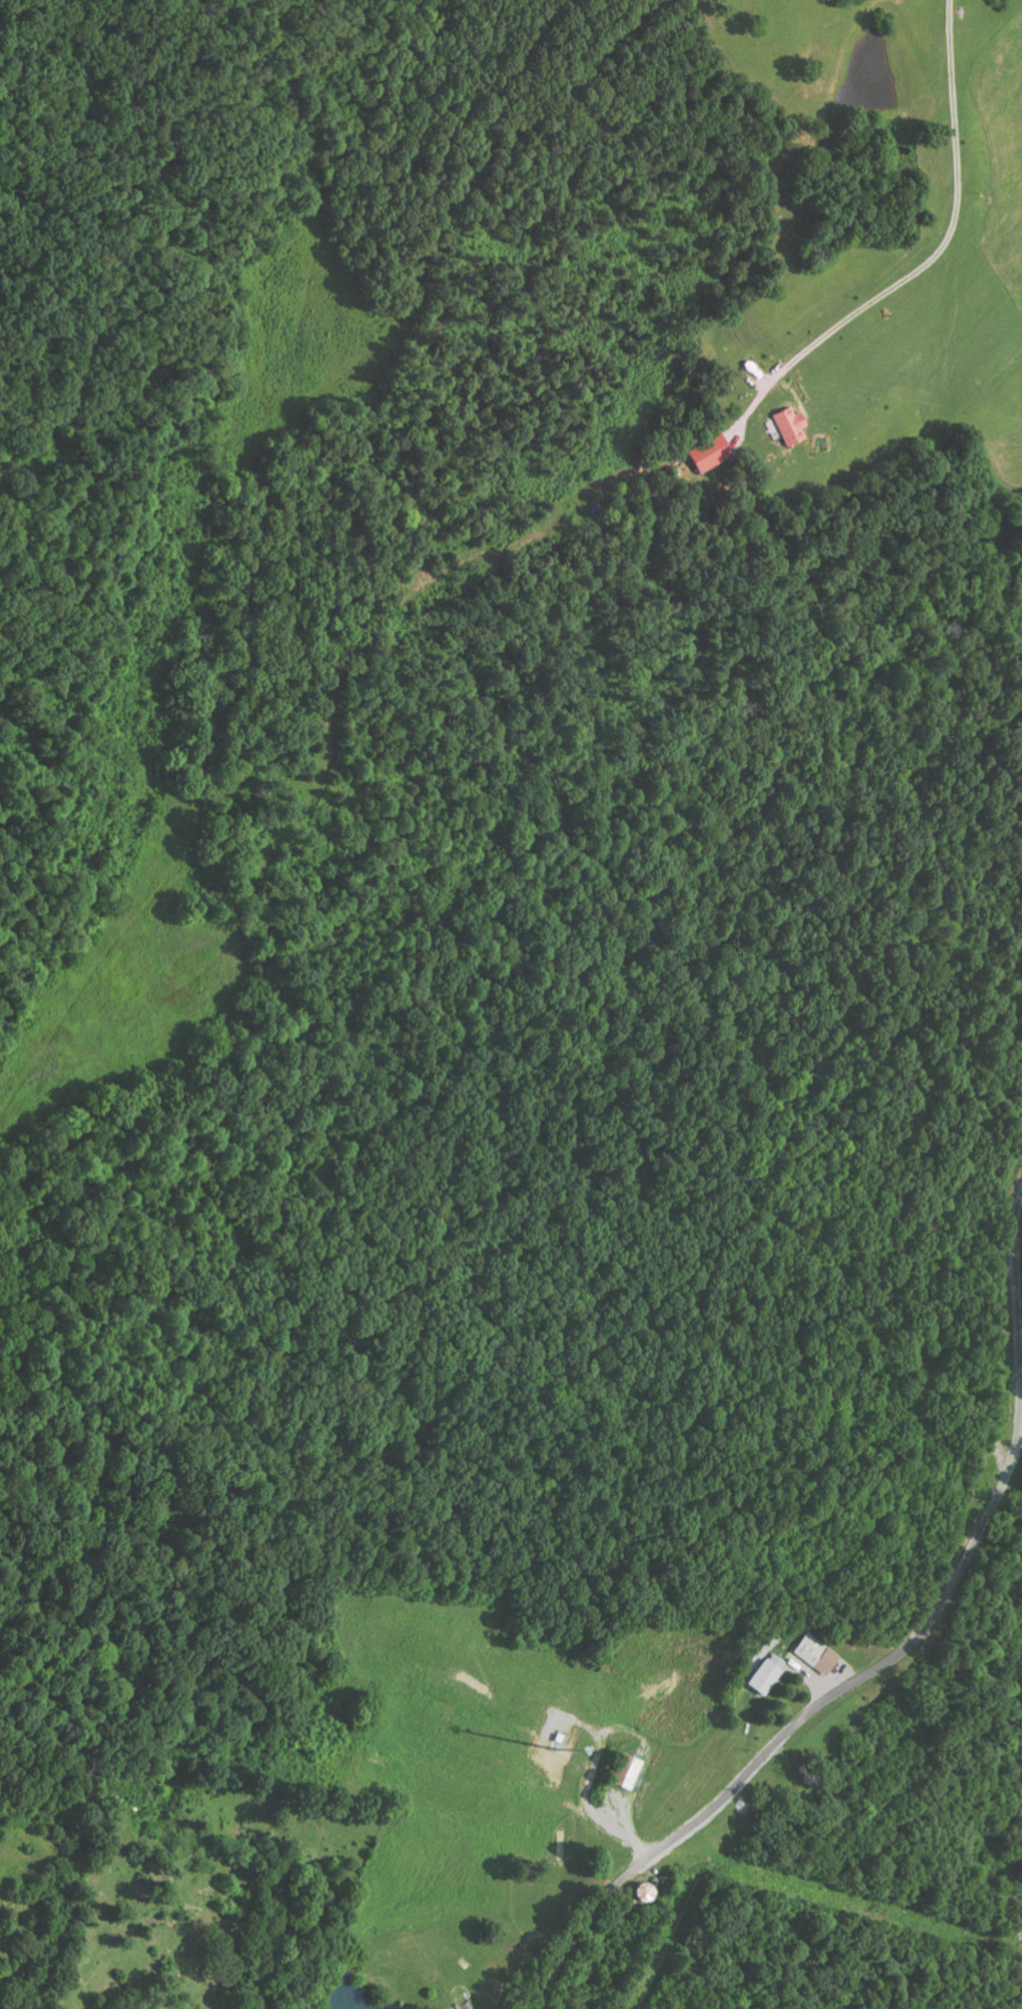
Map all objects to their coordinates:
road: (415, 375)
building: (794, 426)
building: (718, 456)
building: (811, 1653)
road: (886, 1663)
building: (761, 1674)
building: (623, 1772)

